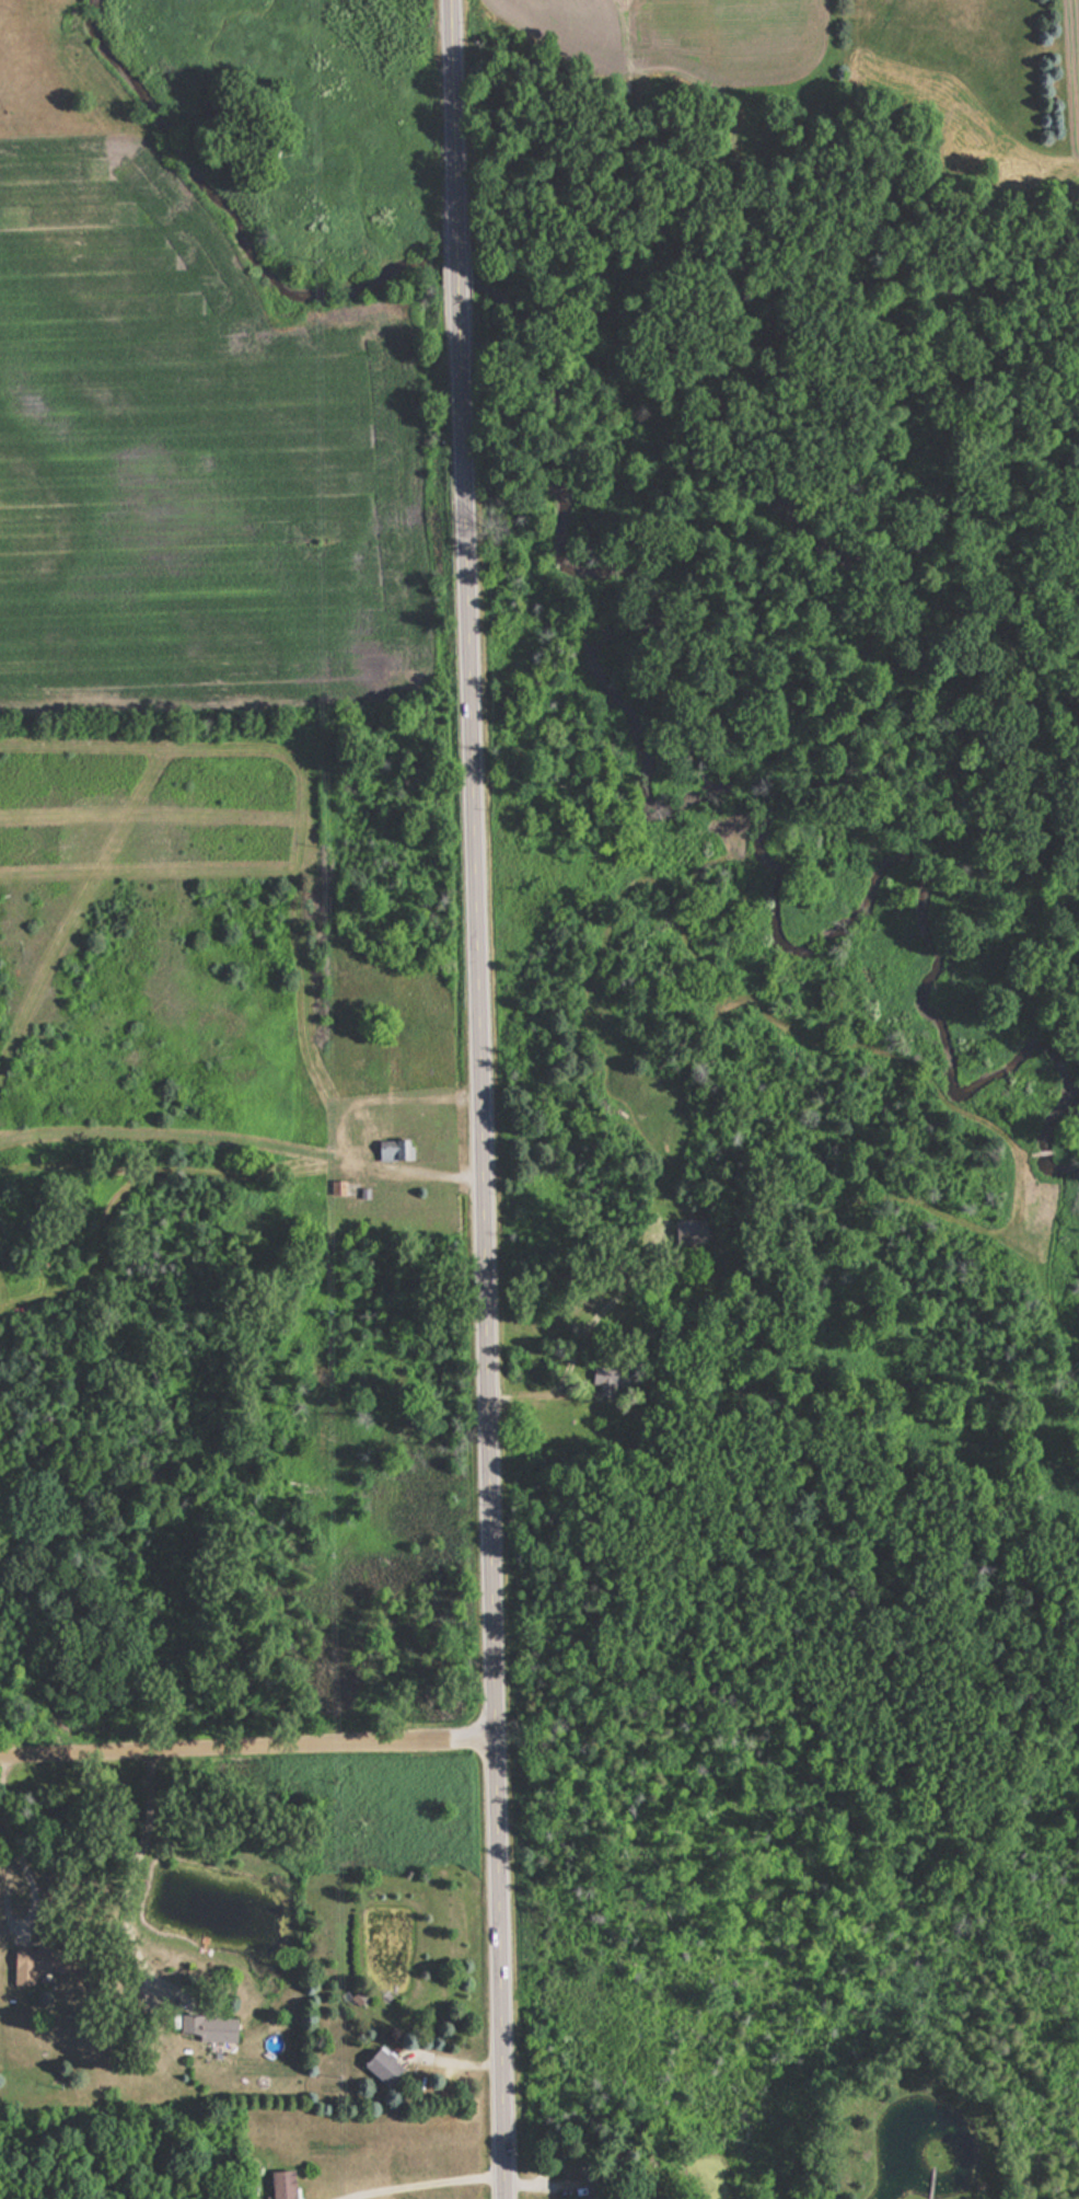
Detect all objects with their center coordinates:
road: (479, 1098)
building: (393, 1150)
building: (606, 1382)
road: (246, 1740)
building: (37, 1962)
building: (209, 2027)
building: (381, 2065)
road: (427, 2183)
building: (281, 2184)
building: (596, 2187)

